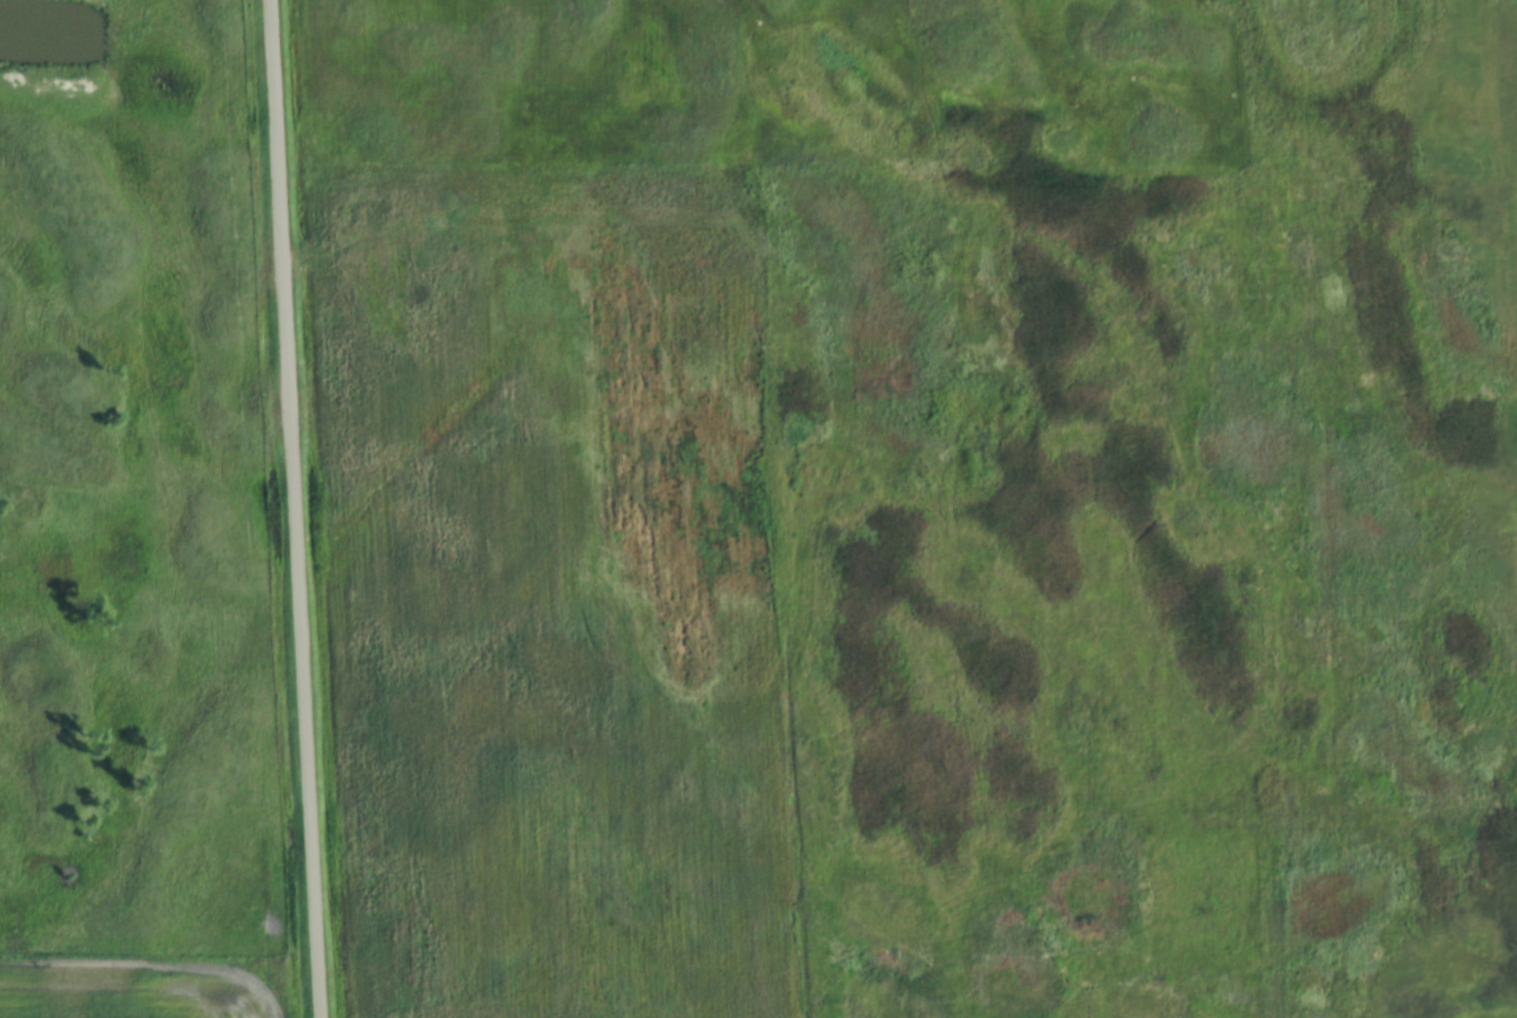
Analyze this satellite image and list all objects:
road: (300, 508)
crop: (134, 990)

